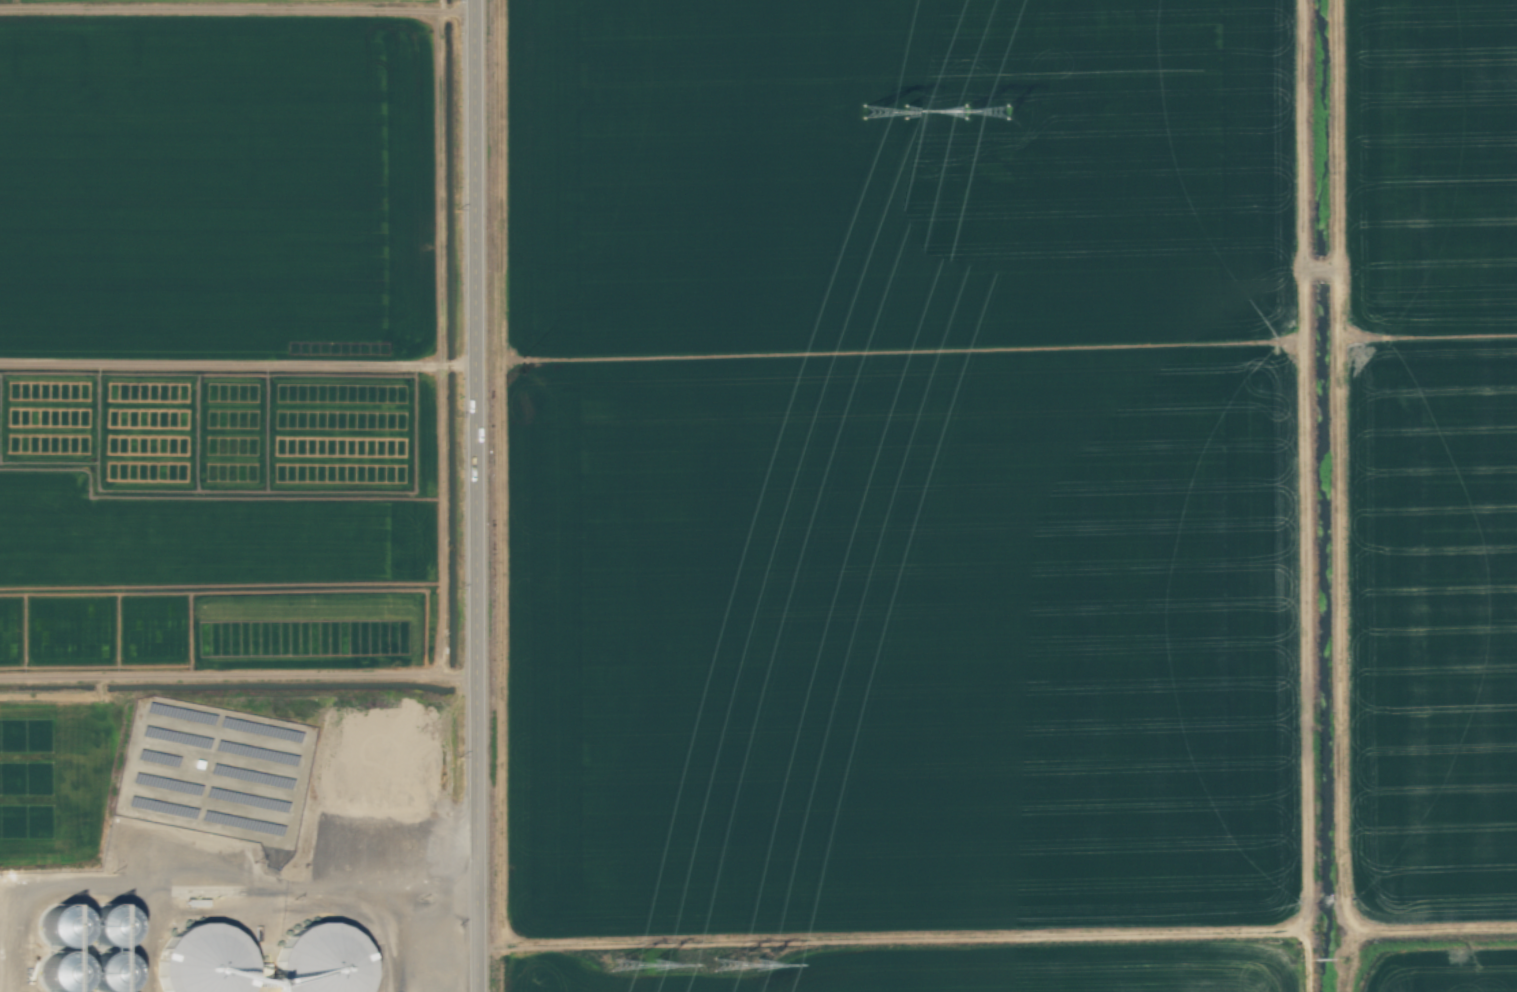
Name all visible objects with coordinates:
power tower: (895, 112)
power tower: (996, 120)
road: (481, 496)
power tower: (643, 962)
power tower: (743, 970)

